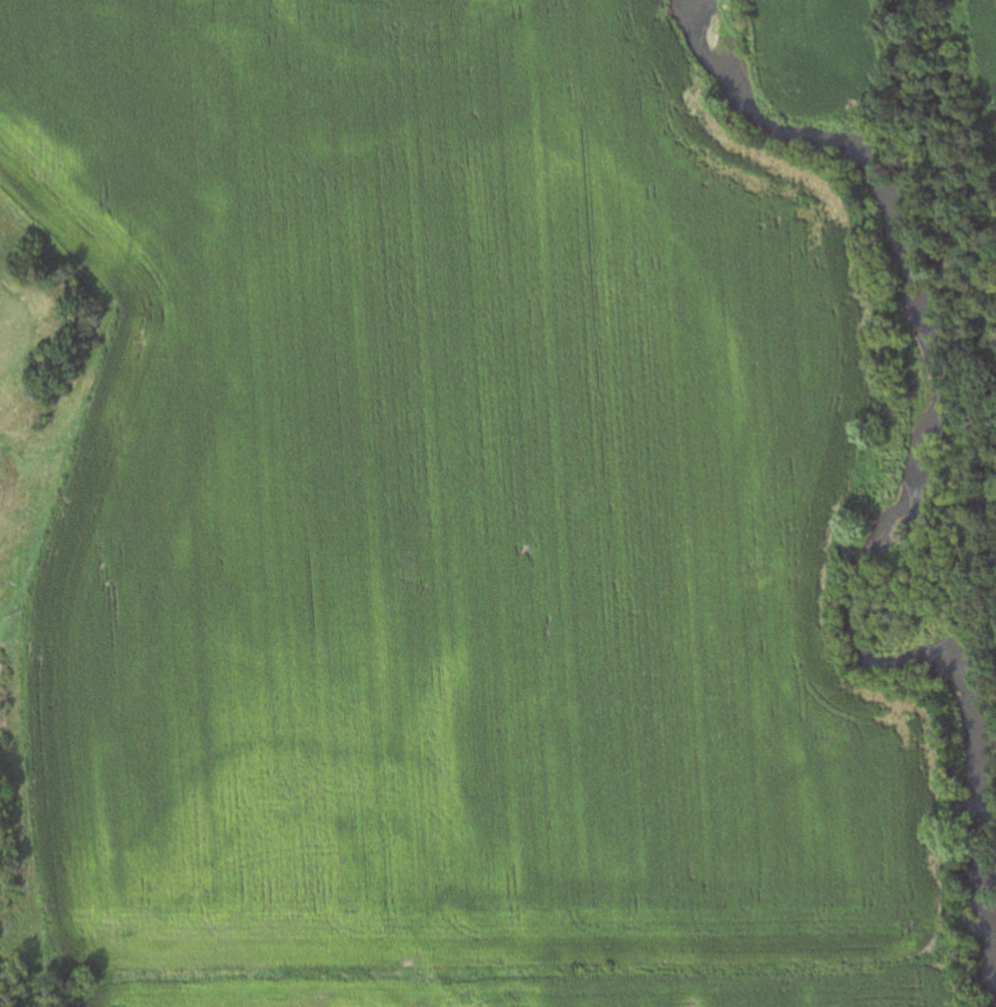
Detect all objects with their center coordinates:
river: (400, 133)
river: (908, 378)

